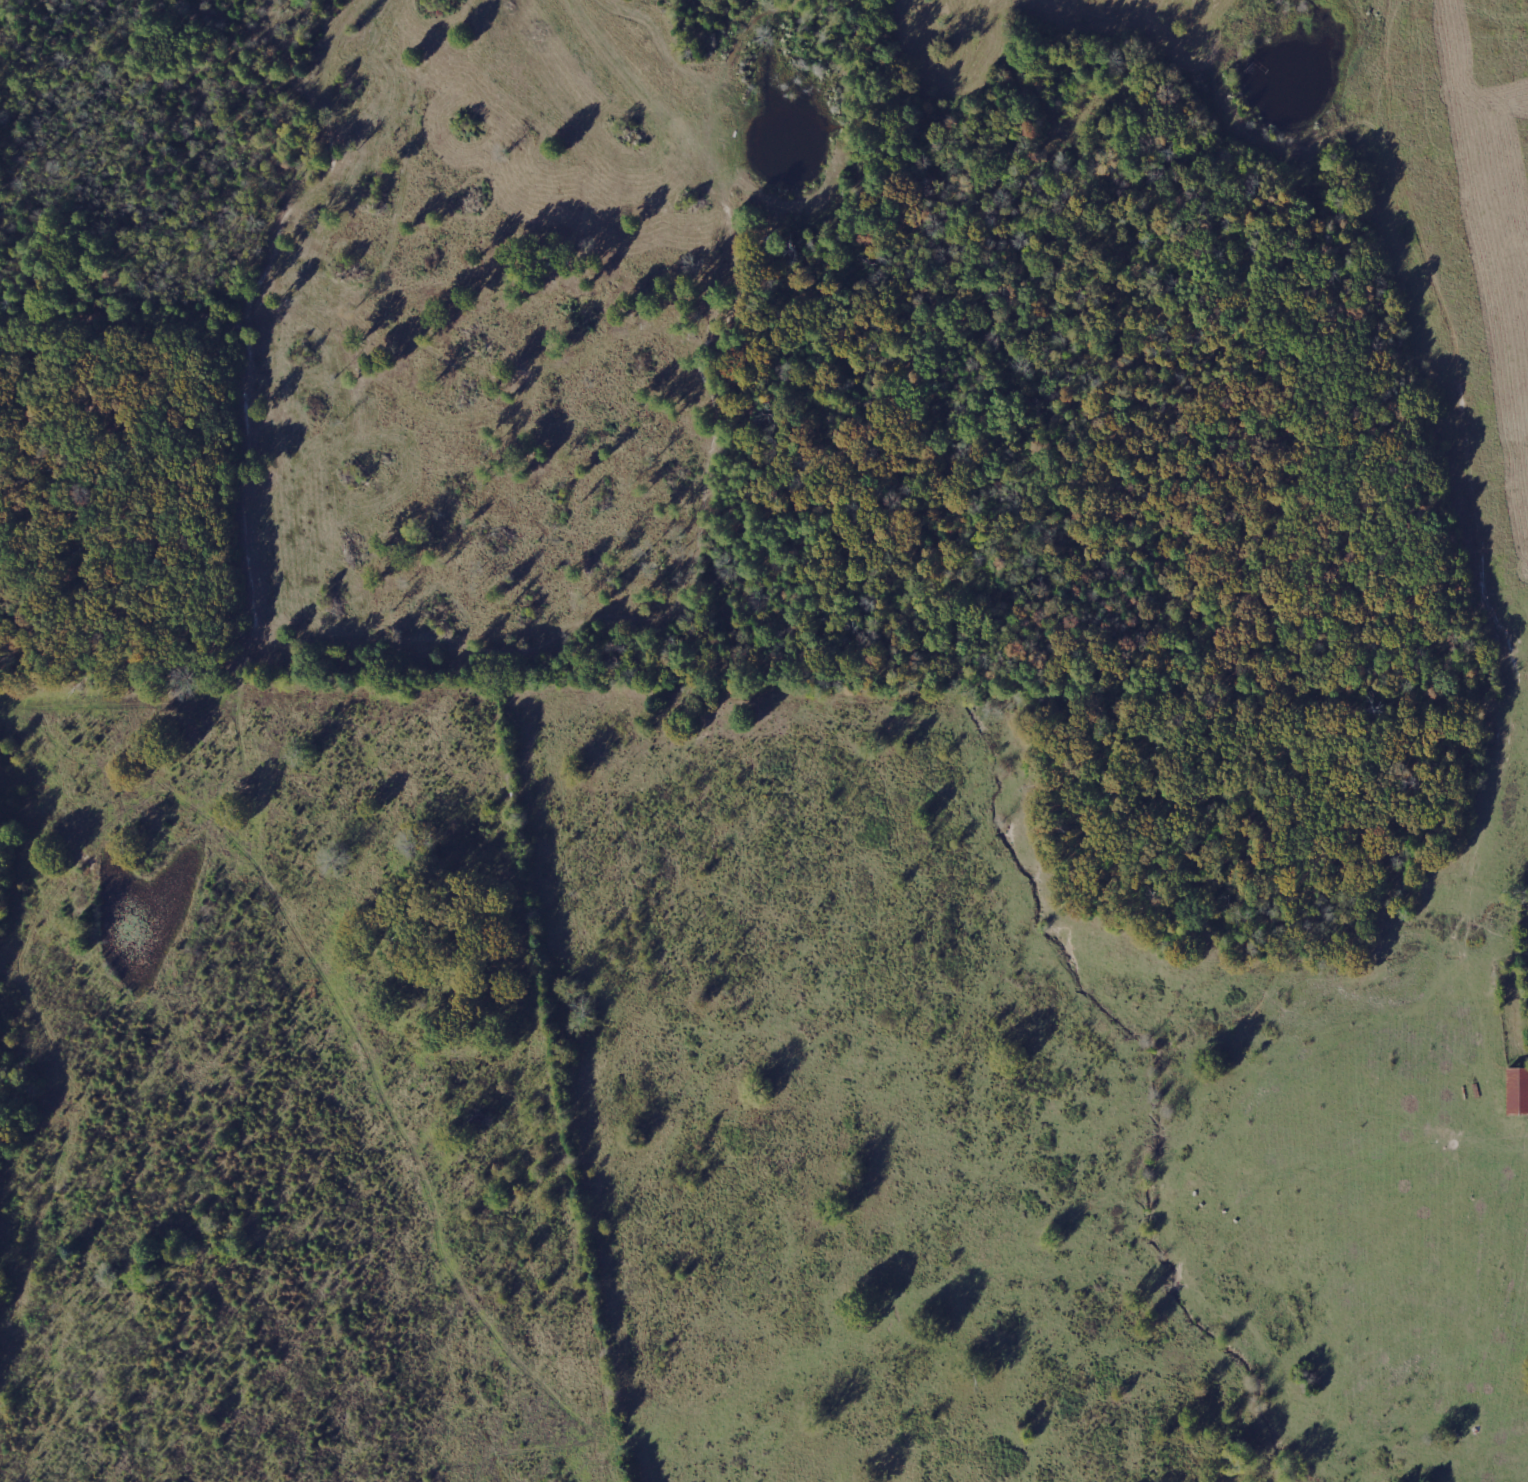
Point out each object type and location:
building: (1517, 1091)

